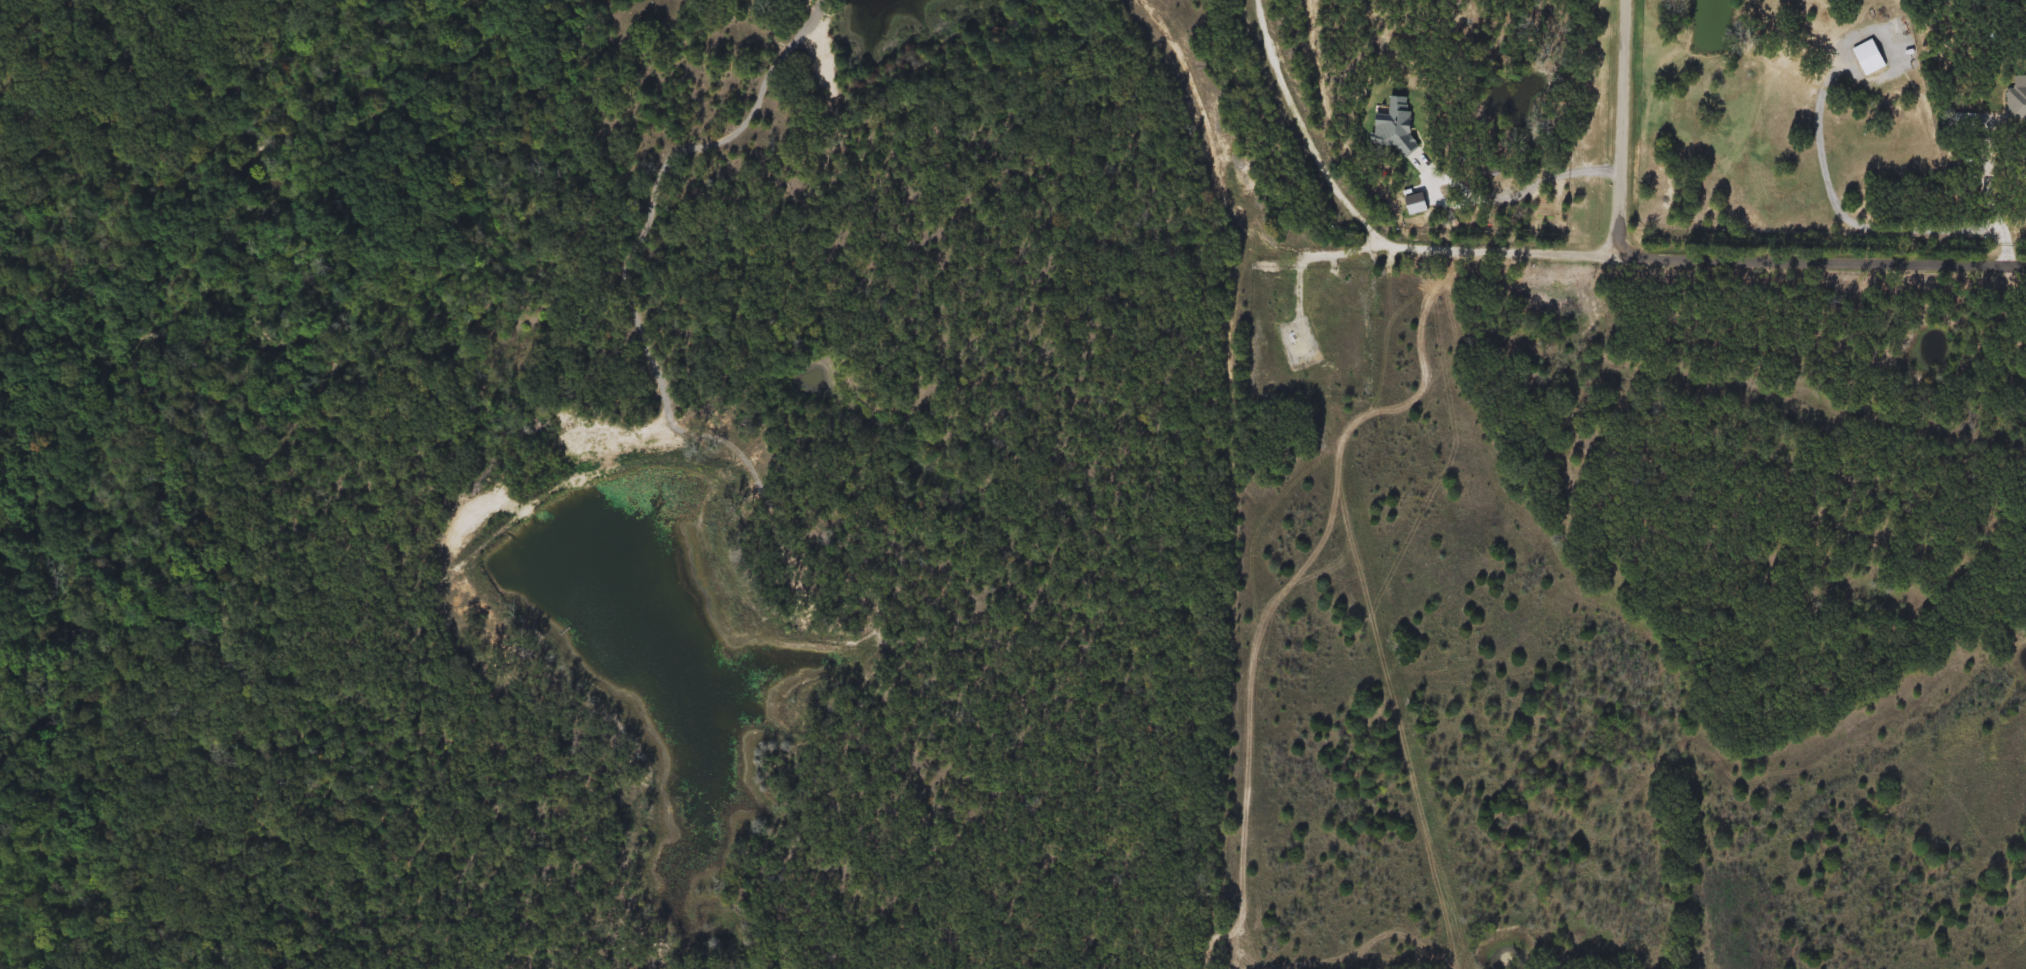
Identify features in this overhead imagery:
building: (1869, 56)
building: (2017, 104)
road: (1626, 126)
road: (1559, 170)
road: (1991, 192)
road: (1844, 216)
road: (1567, 251)

